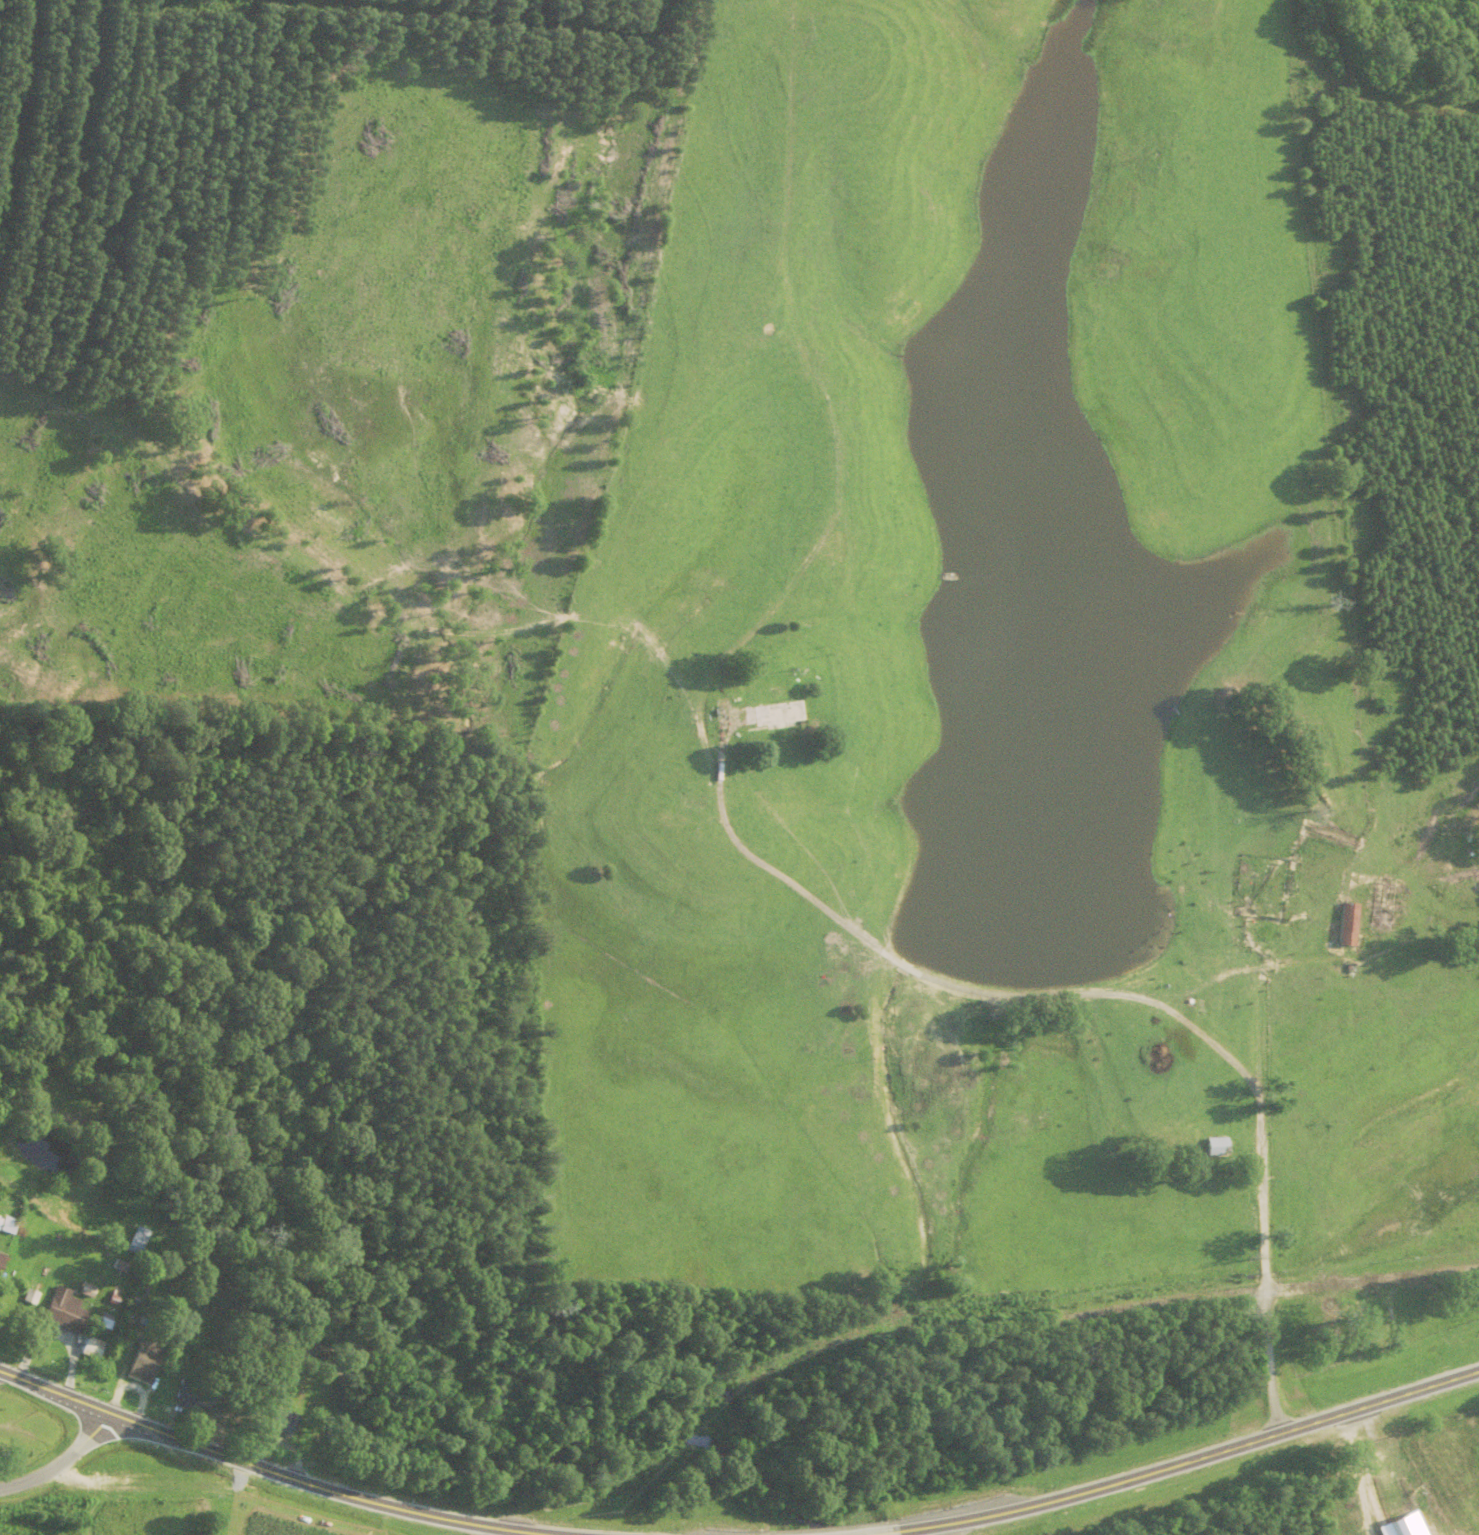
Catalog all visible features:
building: (765, 711)
road: (1314, 919)
dam: (921, 972)
road: (1104, 993)
building: (1217, 1145)
building: (0, 1218)
building: (7, 1223)
building: (138, 1239)
river: (237, 1239)
building: (2, 1258)
building: (119, 1264)
road: (1372, 1279)
building: (87, 1288)
building: (30, 1295)
building: (113, 1299)
building: (66, 1309)
building: (104, 1320)
road: (57, 1334)
building: (91, 1346)
building: (145, 1356)
road: (132, 1385)
building: (192, 1393)
building: (288, 1420)
road: (61, 1460)
road: (1190, 1461)
road: (1361, 1472)
road: (278, 1474)
road: (88, 1479)
crop: (286, 1521)
building: (1406, 1525)
road: (490, 1530)
road: (880, 1533)

